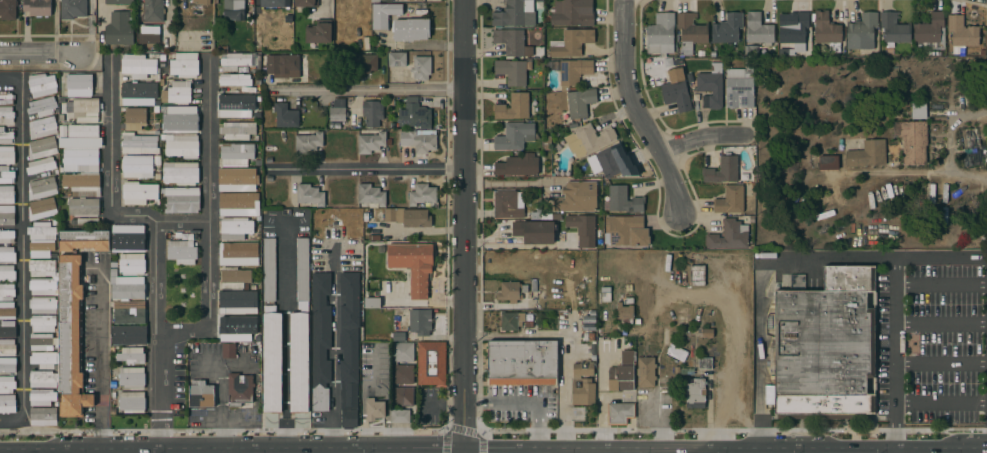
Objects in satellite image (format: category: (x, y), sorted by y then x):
building: (256, 0)
building: (381, 1)
building: (119, 2)
building: (202, 2)
building: (274, 3)
building: (306, 3)
building: (539, 4)
road: (324, 5)
building: (37, 7)
building: (73, 9)
building: (8, 10)
building: (153, 10)
building: (234, 10)
road: (170, 12)
building: (572, 13)
building: (384, 14)
building: (515, 14)
road: (101, 15)
building: (986, 19)
building: (727, 28)
building: (119, 29)
building: (411, 29)
building: (794, 29)
building: (894, 29)
building: (758, 30)
building: (827, 31)
building: (318, 32)
building: (690, 32)
building: (861, 32)
building: (930, 33)
building: (962, 33)
building: (148, 34)
building: (661, 34)
building: (986, 37)
building: (510, 41)
building: (571, 42)
building: (751, 51)
building: (700, 54)
building: (712, 54)
road: (38, 55)
building: (397, 59)
building: (678, 63)
building: (269, 64)
building: (362, 64)
building: (184, 65)
building: (138, 66)
building: (421, 68)
building: (243, 70)
building: (511, 71)
building: (570, 71)
building: (662, 78)
building: (689, 78)
road: (10, 80)
building: (235, 80)
building: (162, 83)
building: (42, 85)
building: (711, 86)
building: (739, 87)
building: (238, 90)
building: (250, 90)
road: (362, 91)
building: (677, 91)
building: (177, 93)
building: (138, 94)
building: (83, 97)
building: (696, 98)
building: (6, 100)
building: (580, 102)
building: (42, 106)
building: (236, 106)
building: (514, 107)
building: (918, 109)
building: (156, 110)
building: (165, 110)
building: (338, 110)
road: (633, 111)
building: (372, 112)
building: (414, 114)
building: (6, 115)
building: (285, 116)
building: (134, 119)
building: (181, 119)
building: (335, 126)
building: (384, 126)
building: (392, 126)
building: (42, 127)
building: (156, 127)
building: (347, 127)
building: (237, 130)
building: (62, 131)
building: (157, 132)
building: (5, 136)
building: (514, 136)
road: (698, 139)
building: (419, 140)
building: (588, 140)
building: (912, 140)
building: (372, 142)
building: (308, 143)
building: (139, 144)
building: (181, 145)
building: (42, 147)
building: (236, 154)
building: (867, 154)
building: (7, 155)
building: (157, 160)
building: (610, 162)
building: (828, 162)
building: (257, 163)
building: (41, 165)
building: (518, 165)
building: (137, 166)
building: (82, 168)
building: (267, 170)
building: (277, 170)
building: (722, 170)
road: (368, 171)
building: (181, 173)
road: (941, 173)
building: (6, 175)
building: (158, 177)
building: (237, 180)
road: (112, 185)
building: (42, 188)
building: (162, 191)
building: (138, 192)
building: (422, 194)
building: (6, 195)
building: (310, 195)
building: (371, 195)
building: (576, 197)
building: (623, 200)
building: (730, 200)
building: (181, 201)
building: (237, 204)
building: (508, 204)
building: (42, 209)
building: (7, 215)
building: (544, 215)
building: (365, 217)
building: (407, 217)
building: (84, 221)
road: (211, 223)
building: (370, 226)
road: (464, 226)
building: (235, 228)
building: (583, 229)
building: (41, 230)
building: (534, 231)
building: (625, 232)
building: (178, 235)
building: (7, 236)
building: (729, 236)
building: (128, 238)
building: (374, 238)
building: (84, 240)
road: (516, 246)
building: (41, 248)
building: (182, 252)
building: (238, 254)
building: (7, 255)
road: (872, 258)
road: (21, 259)
building: (113, 264)
building: (132, 264)
building: (413, 266)
building: (40, 267)
building: (269, 269)
building: (113, 272)
building: (697, 272)
building: (7, 274)
building: (235, 278)
building: (849, 278)
building: (697, 283)
road: (941, 285)
building: (42, 286)
building: (128, 288)
building: (524, 289)
building: (605, 289)
building: (509, 291)
building: (7, 292)
building: (534, 293)
building: (605, 298)
building: (628, 301)
building: (237, 303)
building: (372, 303)
building: (43, 305)
building: (529, 306)
building: (7, 310)
building: (129, 312)
building: (625, 312)
building: (592, 313)
building: (510, 320)
building: (589, 320)
road: (731, 320)
building: (637, 321)
building: (420, 322)
building: (42, 323)
building: (529, 324)
road: (941, 326)
building: (239, 327)
building: (589, 328)
building: (7, 329)
road: (896, 331)
road: (155, 333)
road: (285, 333)
building: (300, 333)
building: (707, 334)
building: (128, 335)
building: (589, 336)
building: (70, 337)
building: (399, 337)
building: (40, 341)
building: (320, 341)
building: (593, 342)
road: (336, 346)
building: (589, 346)
building: (7, 347)
building: (349, 347)
building: (364, 347)
building: (112, 349)
building: (228, 350)
road: (759, 352)
building: (676, 353)
building: (131, 355)
building: (823, 355)
building: (592, 356)
road: (99, 358)
building: (45, 360)
building: (272, 360)
building: (522, 362)
building: (394, 363)
building: (431, 363)
building: (705, 363)
road: (941, 363)
building: (7, 365)
building: (584, 368)
building: (646, 372)
building: (622, 373)
building: (131, 377)
building: (43, 379)
building: (7, 384)
building: (239, 390)
building: (583, 391)
building: (201, 394)
building: (695, 394)
building: (402, 396)
building: (42, 397)
road: (601, 397)
road: (522, 398)
road: (566, 401)
building: (132, 402)
building: (7, 403)
road: (941, 404)
road: (220, 405)
building: (374, 408)
building: (620, 413)
building: (43, 416)
building: (399, 416)
road: (895, 425)
road: (257, 445)
road: (374, 445)
traffic signals: (464, 445)
road: (923, 445)
road: (969, 445)
road: (50, 446)
road: (163, 446)
road: (679, 446)
road: (228, 449)
road: (894, 449)

